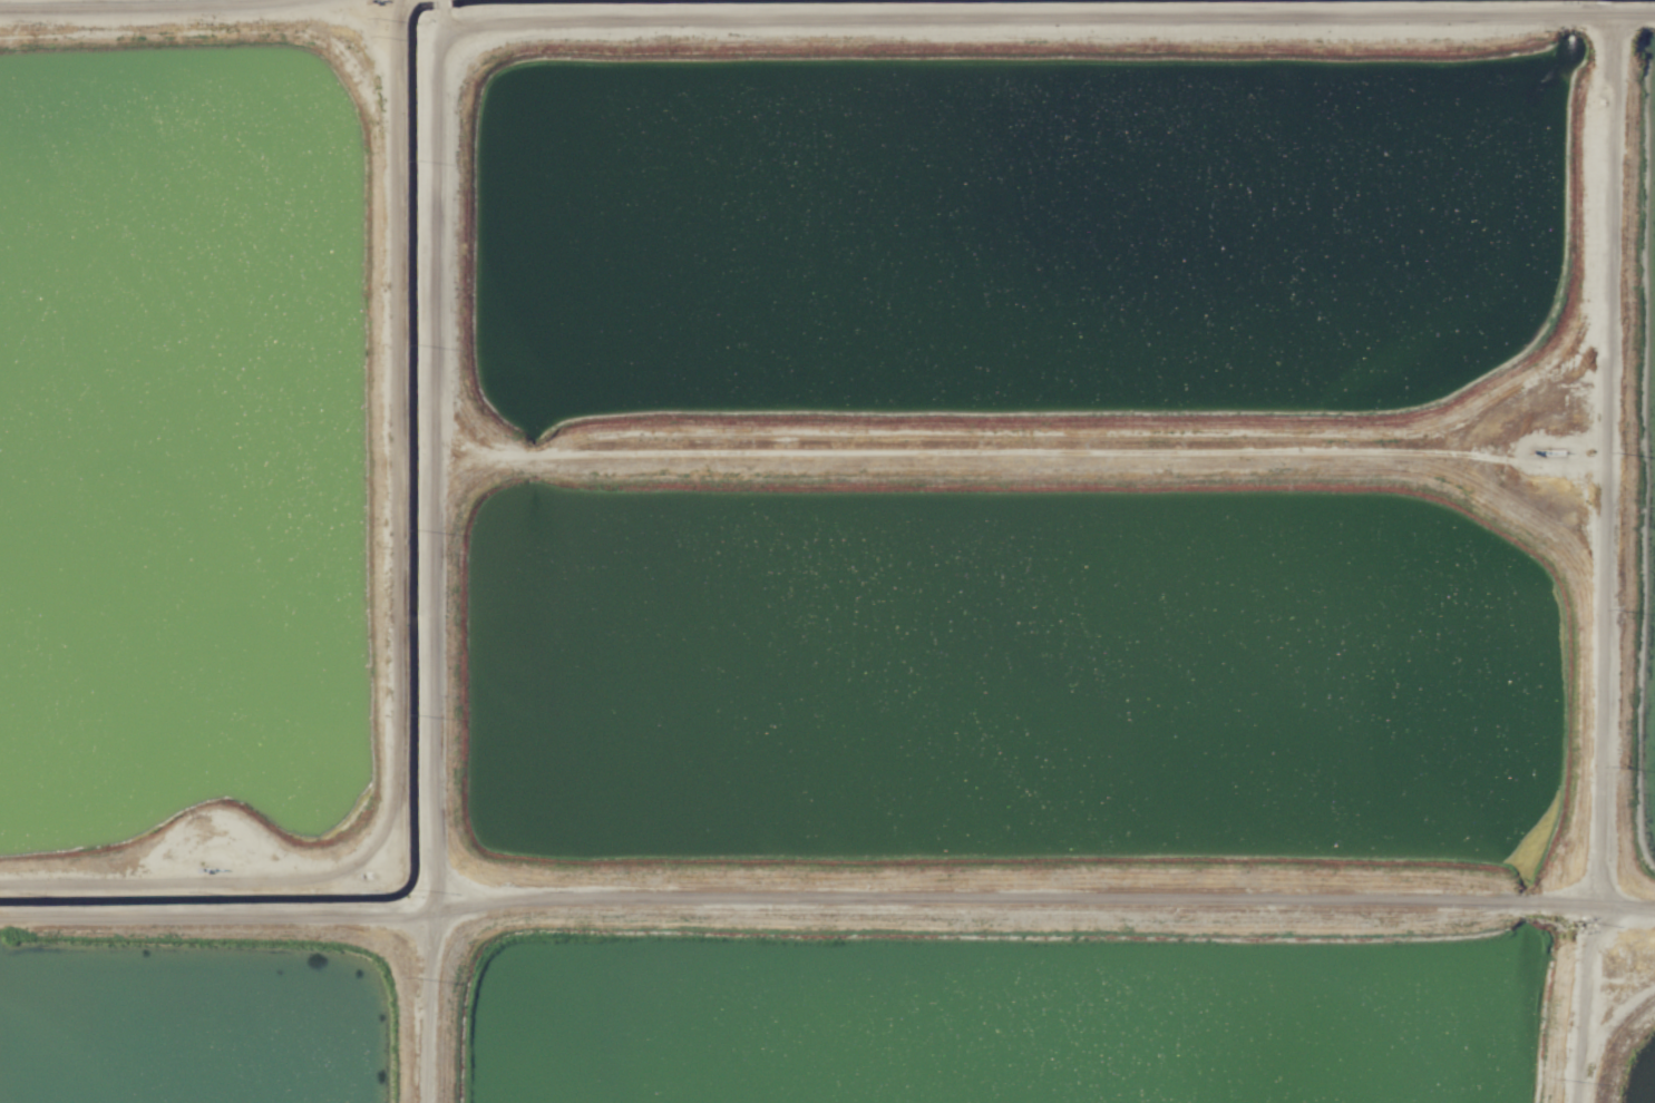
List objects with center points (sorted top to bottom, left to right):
road: (153, 7)
road: (444, 12)
road: (510, 25)
wastewater plant: (1024, 233)
road: (1548, 411)
wastewater plant: (176, 445)
road: (1033, 448)
wastewater plant: (1648, 491)
wastewater plant: (827, 551)
road: (1603, 557)
road: (397, 616)
wastewater plant: (1014, 674)
road: (826, 897)
wastewater plant: (992, 1013)
wastewater plant: (176, 1035)
wastewater plant: (1636, 1065)

